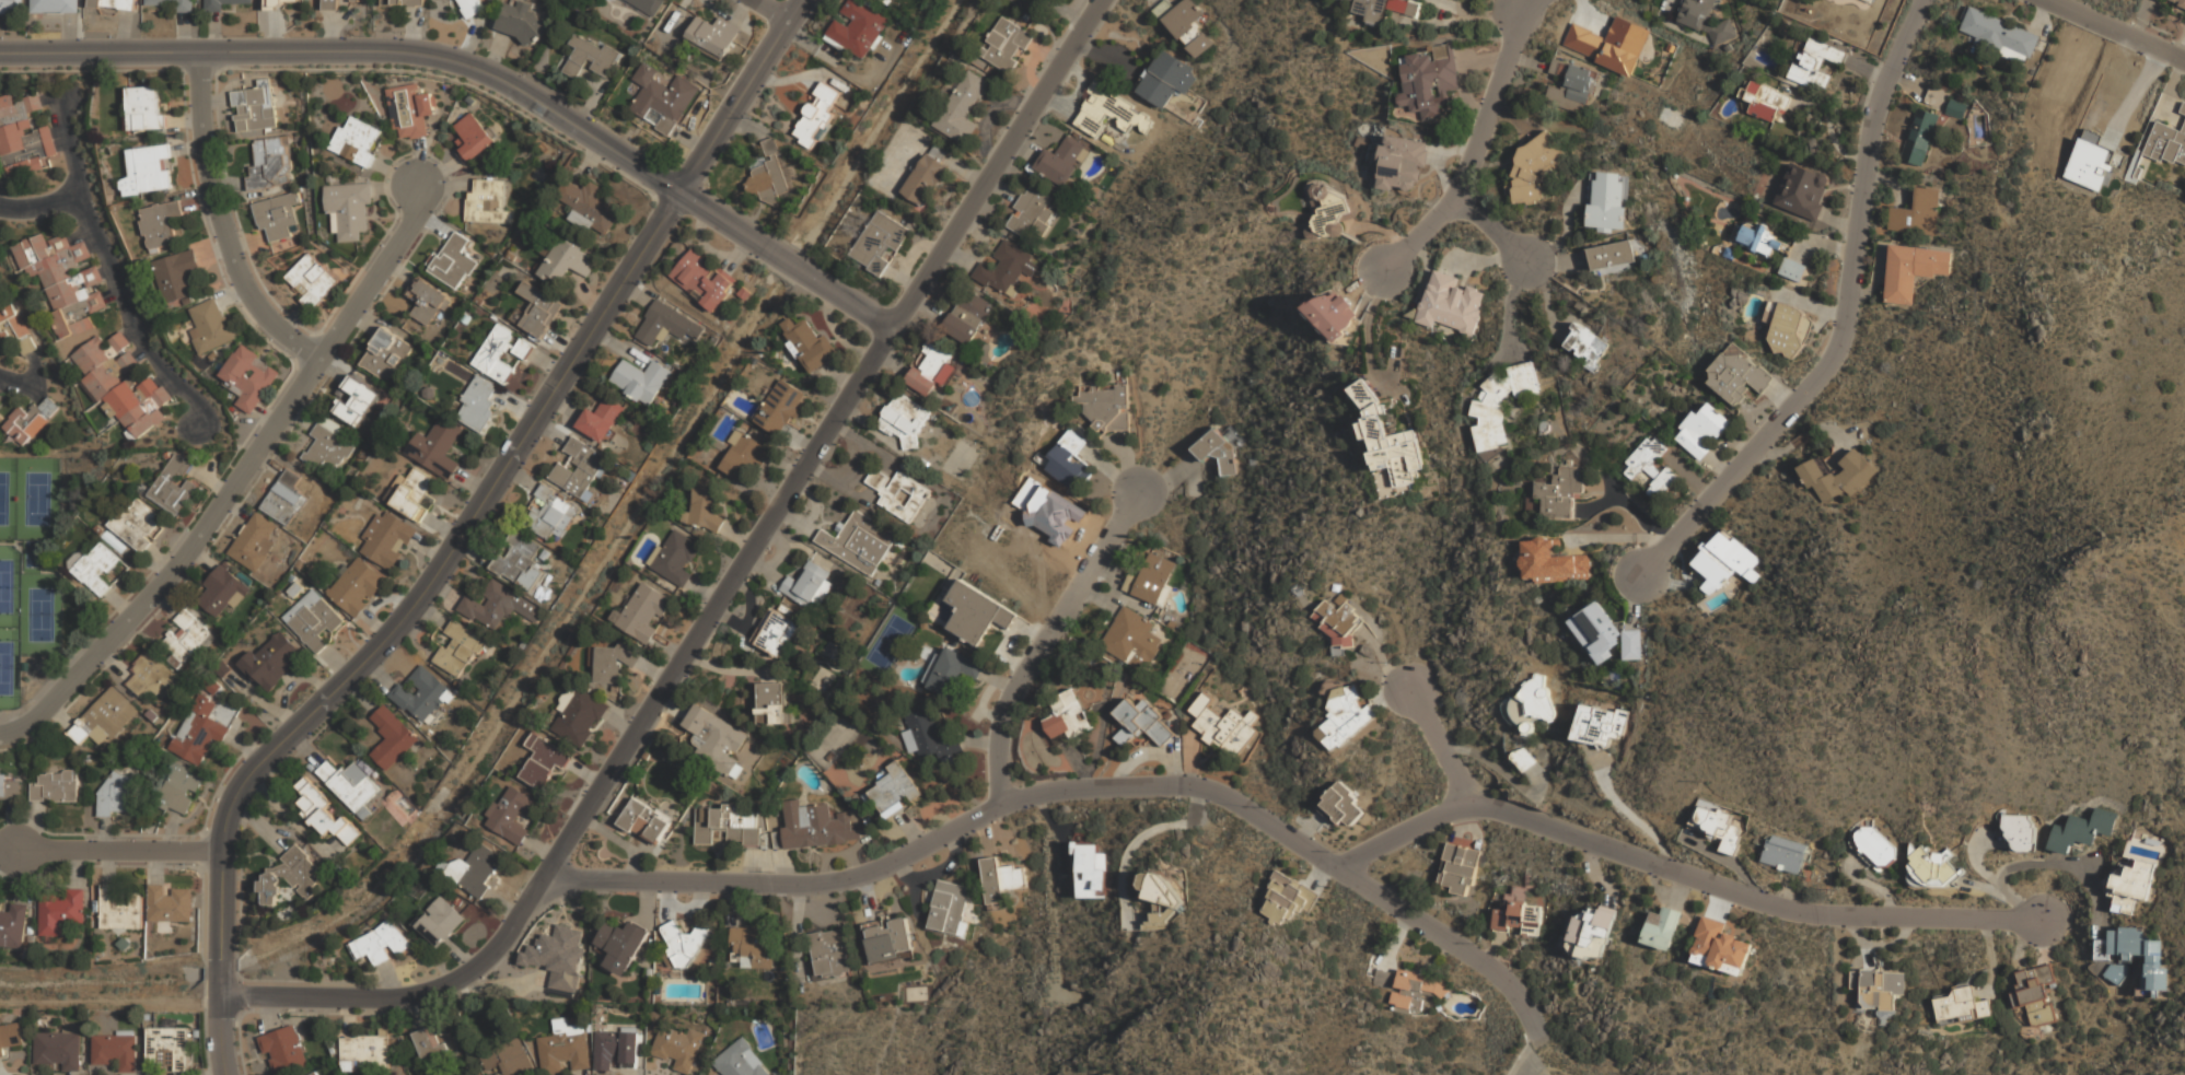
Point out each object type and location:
building: (355, 0)
building: (1870, 0)
building: (2181, 1)
building: (402, 2)
building: (274, 3)
building: (111, 4)
building: (219, 4)
building: (329, 4)
building: (54, 5)
building: (648, 5)
building: (11, 7)
building: (183, 8)
building: (470, 8)
road: (771, 11)
building: (1388, 11)
building: (1704, 20)
building: (521, 22)
building: (1189, 26)
building: (859, 27)
road: (2118, 28)
building: (2000, 32)
building: (712, 35)
building: (1007, 43)
building: (1609, 44)
road: (359, 49)
building: (588, 56)
building: (1815, 62)
building: (1166, 78)
building: (1426, 82)
building: (1570, 85)
road: (741, 95)
building: (661, 96)
road: (51, 98)
road: (217, 100)
building: (1765, 101)
building: (255, 107)
building: (963, 107)
building: (1956, 107)
building: (2183, 107)
building: (144, 108)
building: (18, 109)
building: (410, 110)
building: (817, 114)
building: (1112, 114)
road: (184, 120)
road: (58, 132)
building: (1920, 136)
building: (474, 138)
building: (23, 139)
building: (356, 142)
building: (2167, 142)
road: (61, 147)
road: (1476, 148)
road: (187, 149)
building: (28, 161)
building: (1062, 161)
road: (418, 163)
building: (1402, 164)
building: (268, 166)
building: (1534, 168)
road: (441, 170)
building: (148, 171)
building: (768, 174)
road: (394, 175)
building: (927, 178)
road: (229, 183)
road: (445, 186)
road: (395, 190)
building: (1803, 190)
building: (1608, 200)
building: (487, 203)
road: (198, 205)
building: (588, 206)
road: (39, 207)
building: (350, 209)
building: (1030, 211)
building: (1329, 211)
building: (1918, 214)
building: (276, 215)
road: (722, 217)
road: (221, 222)
building: (162, 223)
road: (433, 225)
road: (1492, 227)
road: (80, 235)
building: (1758, 238)
road: (248, 241)
building: (880, 243)
road: (93, 247)
building: (40, 249)
road: (780, 254)
road: (213, 255)
building: (1612, 255)
building: (510, 256)
building: (565, 260)
building: (453, 262)
building: (61, 266)
building: (1004, 268)
building: (1792, 268)
building: (1914, 270)
road: (104, 272)
road: (109, 273)
road: (400, 273)
building: (176, 274)
building: (704, 280)
building: (311, 281)
building: (74, 289)
road: (111, 296)
road: (844, 296)
road: (232, 297)
building: (429, 302)
building: (1451, 303)
building: (538, 309)
building: (1335, 314)
building: (78, 316)
building: (968, 316)
building: (492, 317)
road: (292, 318)
building: (465, 318)
road: (1847, 318)
road: (364, 324)
building: (667, 325)
building: (15, 328)
building: (211, 328)
building: (1785, 328)
road: (129, 335)
building: (807, 342)
building: (1587, 343)
road: (139, 352)
building: (499, 353)
building: (98, 354)
building: (385, 354)
building: (439, 359)
building: (930, 367)
road: (333, 372)
road: (35, 373)
building: (1737, 374)
building: (112, 375)
road: (161, 378)
building: (248, 378)
building: (641, 379)
road: (3, 384)
road: (20, 384)
road: (172, 388)
building: (429, 393)
road: (37, 396)
building: (1, 397)
building: (129, 397)
building: (356, 401)
building: (1500, 402)
building: (477, 404)
building: (781, 407)
building: (1107, 407)
road: (283, 410)
building: (146, 414)
road: (266, 416)
building: (0, 418)
road: (300, 419)
building: (602, 420)
building: (904, 420)
building: (30, 421)
building: (1705, 431)
building: (1387, 437)
building: (435, 447)
building: (326, 451)
building: (1219, 451)
building: (744, 455)
building: (1069, 459)
road: (269, 465)
building: (1650, 466)
building: (579, 468)
building: (1838, 476)
road: (208, 482)
building: (174, 486)
building: (1561, 492)
building: (409, 493)
building: (898, 493)
park: (8, 499)
park: (35, 499)
building: (286, 499)
building: (706, 505)
road: (237, 511)
building: (551, 514)
building: (137, 525)
building: (386, 538)
building: (858, 541)
building: (252, 542)
road: (161, 558)
building: (675, 558)
building: (519, 561)
building: (1551, 562)
building: (1724, 562)
building: (300, 563)
building: (98, 569)
building: (291, 577)
building: (1149, 580)
building: (807, 584)
building: (355, 585)
park: (9, 587)
building: (294, 589)
building: (223, 592)
road: (717, 593)
road: (119, 604)
road: (165, 604)
building: (499, 607)
building: (977, 612)
building: (642, 614)
park: (37, 616)
building: (312, 619)
building: (1338, 620)
road: (397, 624)
building: (775, 632)
building: (1604, 634)
building: (186, 635)
road: (1046, 638)
building: (1130, 639)
building: (458, 648)
building: (175, 661)
building: (270, 661)
building: (612, 663)
road: (115, 666)
park: (9, 668)
building: (222, 668)
building: (953, 671)
building: (1182, 671)
building: (151, 676)
road: (67, 686)
building: (212, 687)
park: (1836, 691)
building: (421, 693)
building: (772, 704)
building: (224, 712)
building: (151, 714)
building: (580, 716)
building: (1067, 716)
road: (59, 718)
building: (1345, 718)
building: (104, 720)
building: (1141, 723)
building: (1223, 725)
building: (1599, 725)
building: (199, 732)
building: (928, 735)
building: (392, 736)
building: (716, 739)
road: (1440, 743)
building: (86, 758)
building: (544, 761)
building: (349, 783)
building: (55, 786)
building: (176, 787)
building: (8, 788)
building: (894, 790)
building: (115, 794)
building: (1340, 806)
building: (324, 813)
building: (511, 815)
building: (644, 820)
building: (728, 823)
building: (1716, 826)
building: (814, 827)
building: (2081, 830)
road: (950, 831)
road: (1404, 832)
building: (2020, 832)
road: (1140, 839)
building: (1872, 846)
road: (120, 851)
building: (1783, 853)
building: (478, 867)
building: (1932, 867)
building: (1458, 868)
building: (1090, 869)
building: (288, 876)
building: (1000, 879)
building: (2134, 879)
road: (1751, 897)
building: (1282, 898)
building: (1160, 899)
building: (168, 903)
building: (119, 909)
building: (949, 909)
building: (59, 912)
building: (1518, 916)
building: (441, 923)
building: (12, 925)
building: (1662, 928)
building: (30, 930)
building: (1591, 933)
building: (31, 938)
building: (888, 940)
road: (1454, 940)
building: (684, 942)
building: (123, 944)
building: (381, 944)
building: (621, 945)
building: (752, 946)
building: (1719, 947)
building: (829, 953)
building: (2136, 954)
building: (557, 957)
building: (1383, 979)
building: (1415, 990)
building: (1878, 992)
building: (2034, 993)
building: (1961, 1006)
building: (147, 1016)
building: (196, 1033)
building: (10, 1036)
building: (434, 1042)
building: (167, 1047)
building: (677, 1047)
building: (58, 1048)
building: (615, 1048)
building: (284, 1049)
building: (116, 1050)
building: (367, 1050)
building: (562, 1051)
building: (507, 1059)
building: (739, 1060)
building: (312, 1073)

